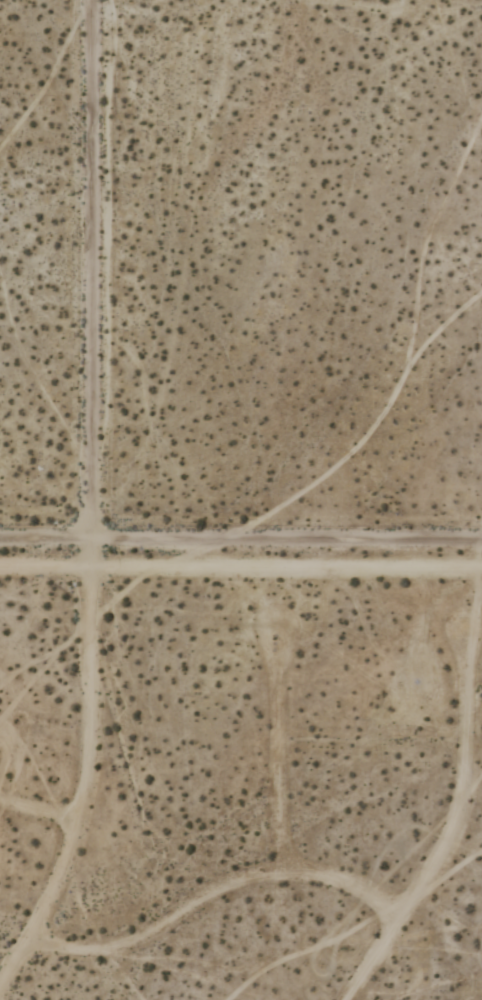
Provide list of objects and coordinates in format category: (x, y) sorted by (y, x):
road: (92, 271)
crop: (241, 500)
road: (241, 542)
road: (90, 555)
road: (240, 570)
road: (277, 766)
road: (80, 786)
road: (35, 818)
road: (450, 835)
road: (210, 898)

